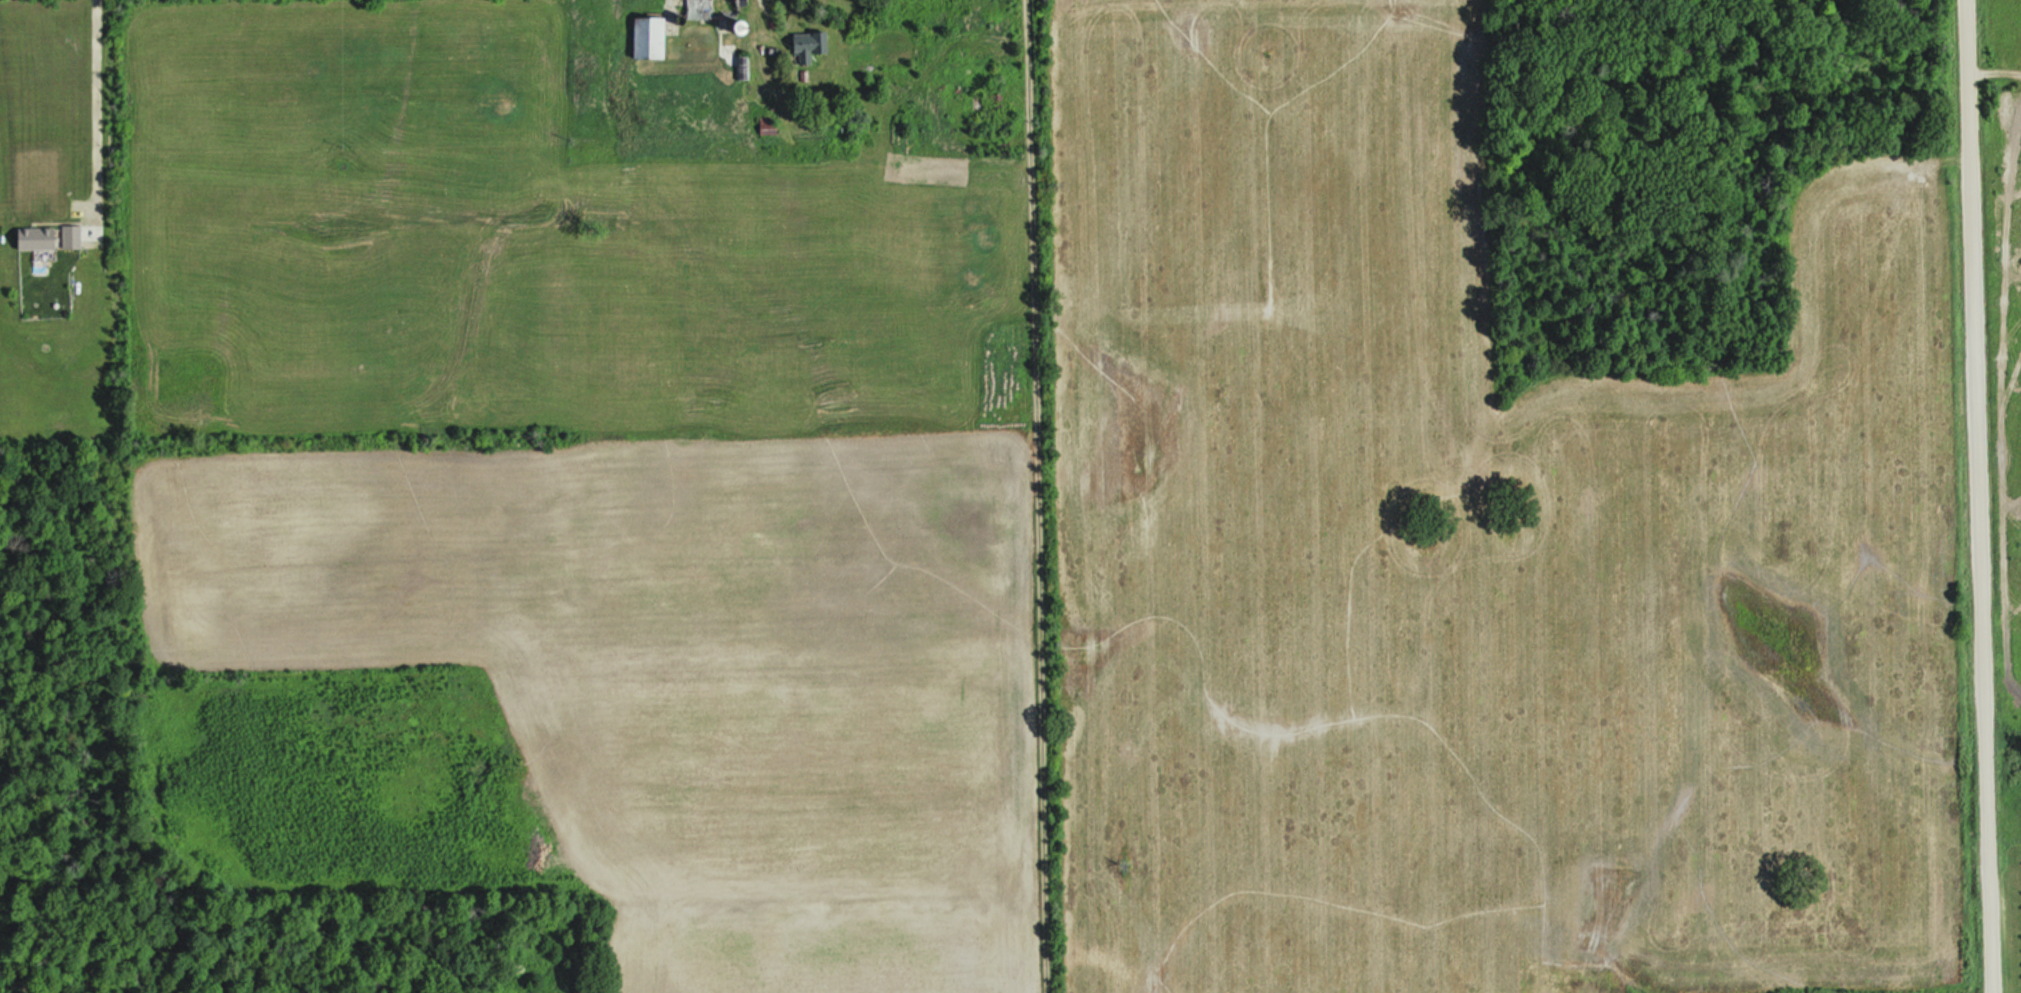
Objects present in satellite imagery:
building: (717, 10)
building: (652, 39)
building: (811, 47)
road: (102, 108)
building: (73, 239)
building: (39, 240)
road: (1043, 496)
road: (1976, 496)

